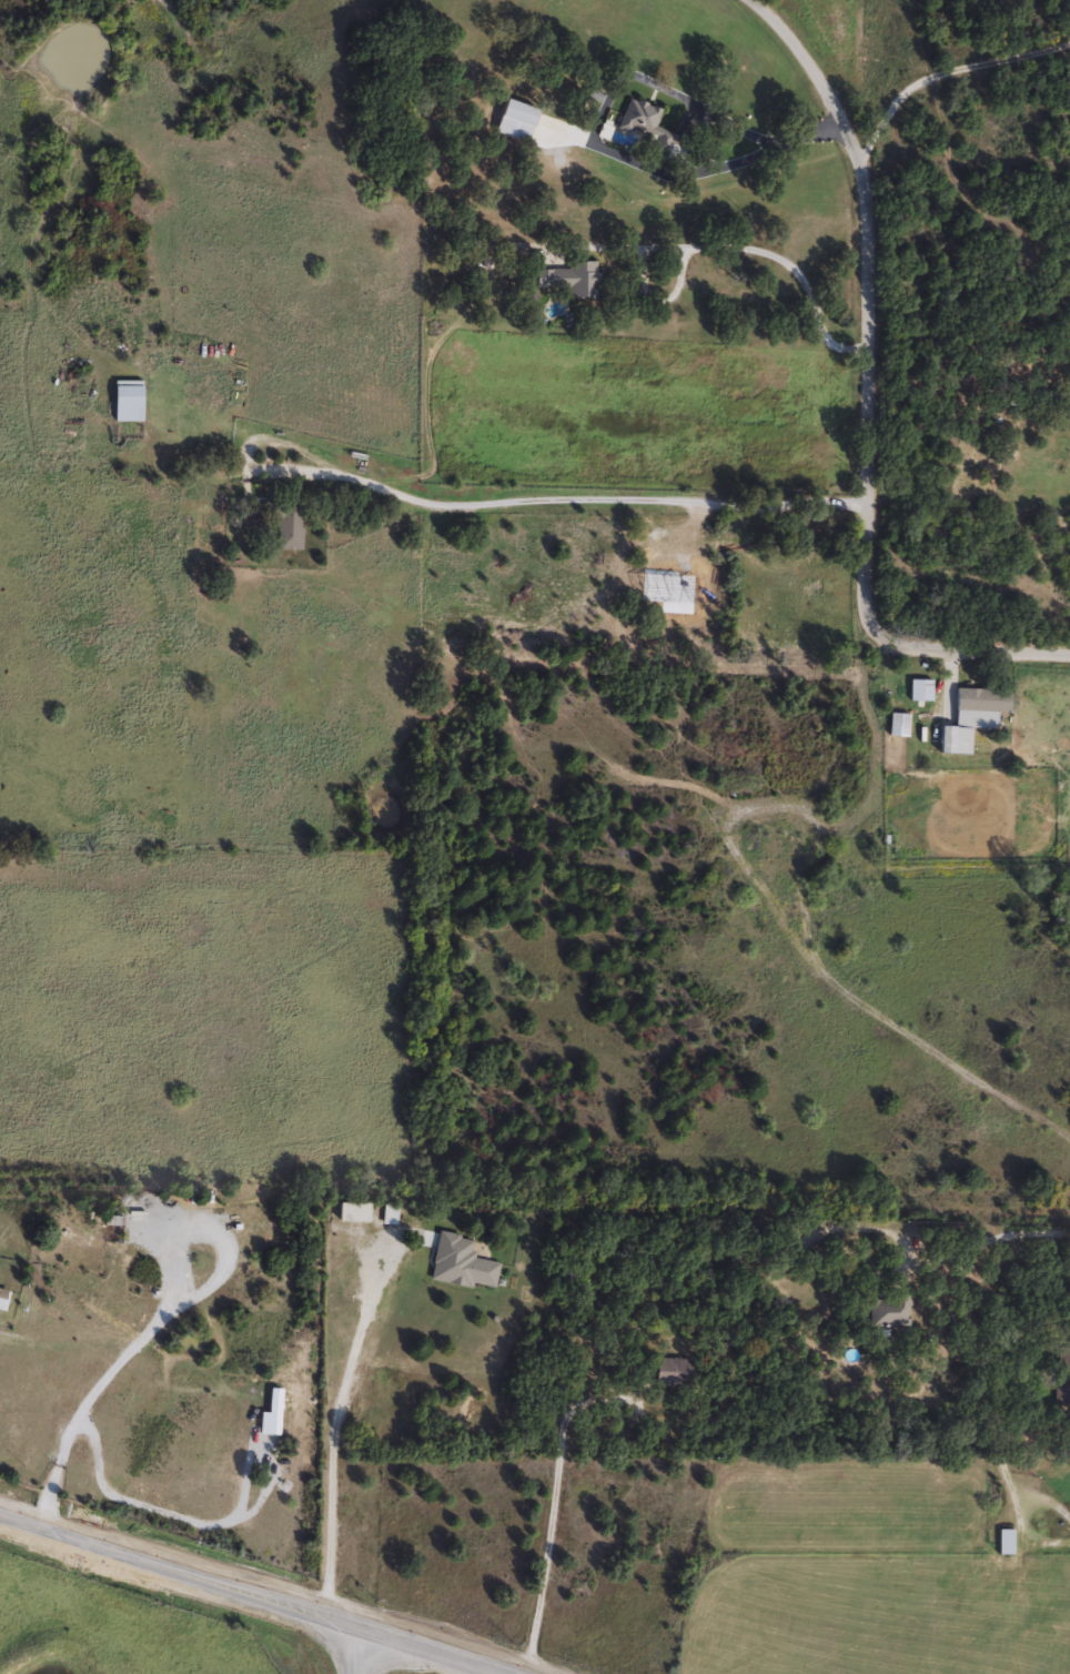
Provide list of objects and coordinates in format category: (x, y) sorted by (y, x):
building: (642, 127)
road: (596, 147)
building: (569, 278)
road: (867, 399)
building: (124, 402)
road: (554, 498)
building: (289, 525)
building: (919, 689)
building: (897, 720)
building: (958, 723)
building: (349, 1210)
building: (460, 1261)
road: (926, 1265)
building: (2, 1297)
building: (886, 1309)
building: (668, 1370)
building: (1061, 1376)
building: (361, 1413)
road: (337, 1419)
road: (554, 1506)
building: (1002, 1541)
road: (255, 1594)
road: (352, 1648)

